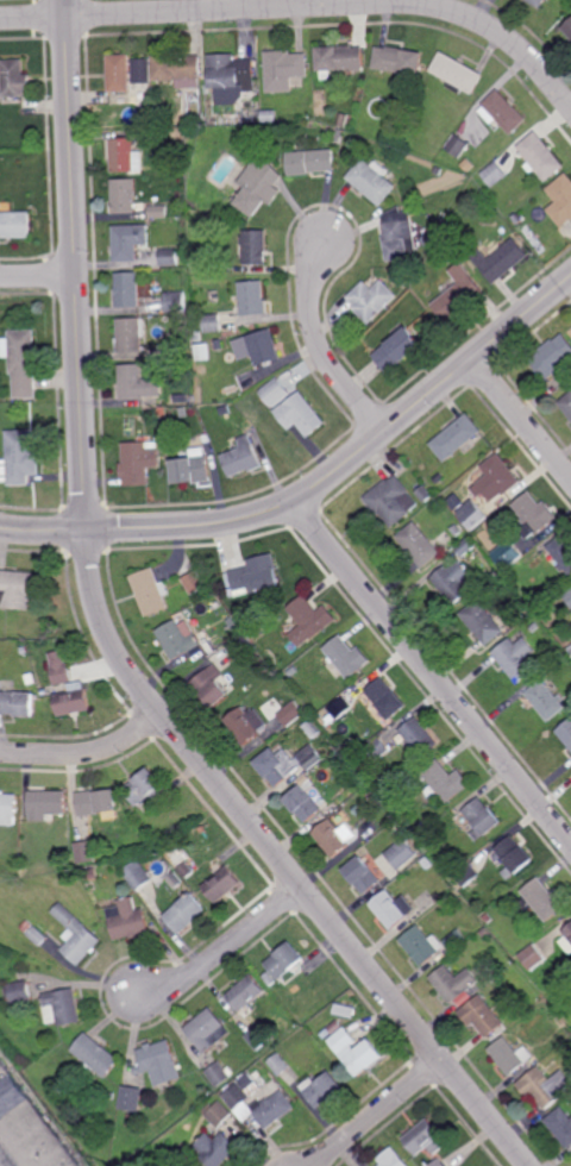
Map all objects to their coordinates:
building: (538, 2)
road: (303, 6)
building: (567, 30)
building: (340, 61)
building: (400, 62)
building: (176, 70)
building: (284, 70)
building: (140, 73)
building: (119, 74)
building: (231, 74)
building: (458, 75)
building: (17, 79)
building: (502, 113)
building: (343, 120)
building: (256, 130)
building: (339, 136)
building: (458, 146)
building: (126, 157)
building: (541, 158)
building: (309, 163)
building: (468, 164)
building: (180, 167)
building: (439, 173)
building: (494, 175)
building: (372, 182)
building: (257, 187)
building: (125, 196)
building: (561, 200)
building: (158, 211)
building: (517, 219)
building: (14, 221)
building: (400, 236)
building: (130, 239)
building: (428, 239)
building: (255, 246)
building: (170, 255)
building: (501, 258)
road: (38, 276)
building: (128, 288)
building: (460, 293)
building: (253, 297)
building: (371, 299)
building: (176, 301)
building: (212, 324)
building: (130, 333)
building: (197, 336)
building: (218, 344)
building: (262, 346)
road: (318, 347)
building: (400, 349)
building: (168, 350)
building: (553, 356)
building: (24, 361)
building: (246, 380)
building: (134, 382)
building: (277, 394)
building: (181, 399)
building: (566, 403)
building: (182, 412)
building: (300, 415)
road: (522, 418)
building: (247, 425)
building: (457, 437)
building: (25, 456)
building: (241, 458)
building: (138, 460)
building: (192, 466)
building: (439, 478)
building: (497, 478)
road: (316, 485)
building: (425, 494)
building: (393, 501)
building: (531, 515)
building: (476, 518)
building: (457, 531)
building: (423, 544)
building: (466, 546)
building: (560, 553)
building: (507, 554)
building: (256, 576)
building: (194, 582)
building: (453, 582)
building: (18, 588)
building: (150, 591)
building: (567, 596)
building: (527, 612)
building: (276, 616)
building: (309, 620)
building: (482, 622)
building: (534, 627)
building: (236, 628)
building: (178, 639)
building: (240, 645)
building: (25, 650)
building: (570, 650)
building: (570, 651)
road: (115, 653)
building: (347, 657)
building: (516, 658)
building: (61, 667)
building: (268, 671)
building: (293, 671)
building: (546, 672)
road: (431, 676)
building: (33, 679)
building: (21, 682)
building: (211, 687)
building: (45, 691)
building: (75, 700)
building: (387, 701)
building: (546, 701)
building: (20, 704)
building: (341, 708)
building: (291, 714)
building: (246, 725)
building: (313, 729)
building: (566, 733)
building: (420, 738)
building: (377, 748)
road: (84, 753)
building: (338, 757)
building: (284, 765)
building: (443, 784)
building: (146, 789)
building: (370, 794)
building: (377, 800)
building: (48, 804)
building: (99, 804)
building: (303, 804)
building: (10, 809)
building: (478, 820)
building: (397, 832)
building: (435, 833)
building: (335, 838)
building: (426, 840)
building: (86, 852)
building: (402, 854)
building: (513, 857)
building: (65, 863)
building: (427, 864)
building: (187, 870)
building: (92, 874)
building: (465, 874)
building: (138, 876)
building: (363, 877)
building: (175, 882)
building: (221, 884)
building: (541, 901)
building: (394, 909)
building: (184, 915)
building: (487, 920)
building: (126, 921)
building: (485, 932)
building: (37, 933)
building: (79, 936)
building: (566, 940)
road: (226, 941)
building: (453, 941)
building: (421, 946)
building: (532, 958)
building: (287, 961)
building: (270, 980)
building: (541, 982)
building: (454, 983)
building: (23, 993)
building: (246, 995)
building: (345, 1003)
building: (64, 1009)
building: (481, 1017)
building: (208, 1032)
building: (563, 1034)
building: (261, 1039)
building: (357, 1053)
building: (96, 1055)
building: (509, 1057)
building: (159, 1064)
building: (281, 1066)
building: (220, 1077)
building: (544, 1086)
building: (324, 1089)
building: (111, 1096)
building: (131, 1099)
building: (278, 1101)
building: (219, 1112)
road: (374, 1112)
building: (133, 1120)
building: (31, 1124)
building: (560, 1126)
building: (426, 1137)
building: (217, 1148)
building: (394, 1158)
building: (438, 1162)

